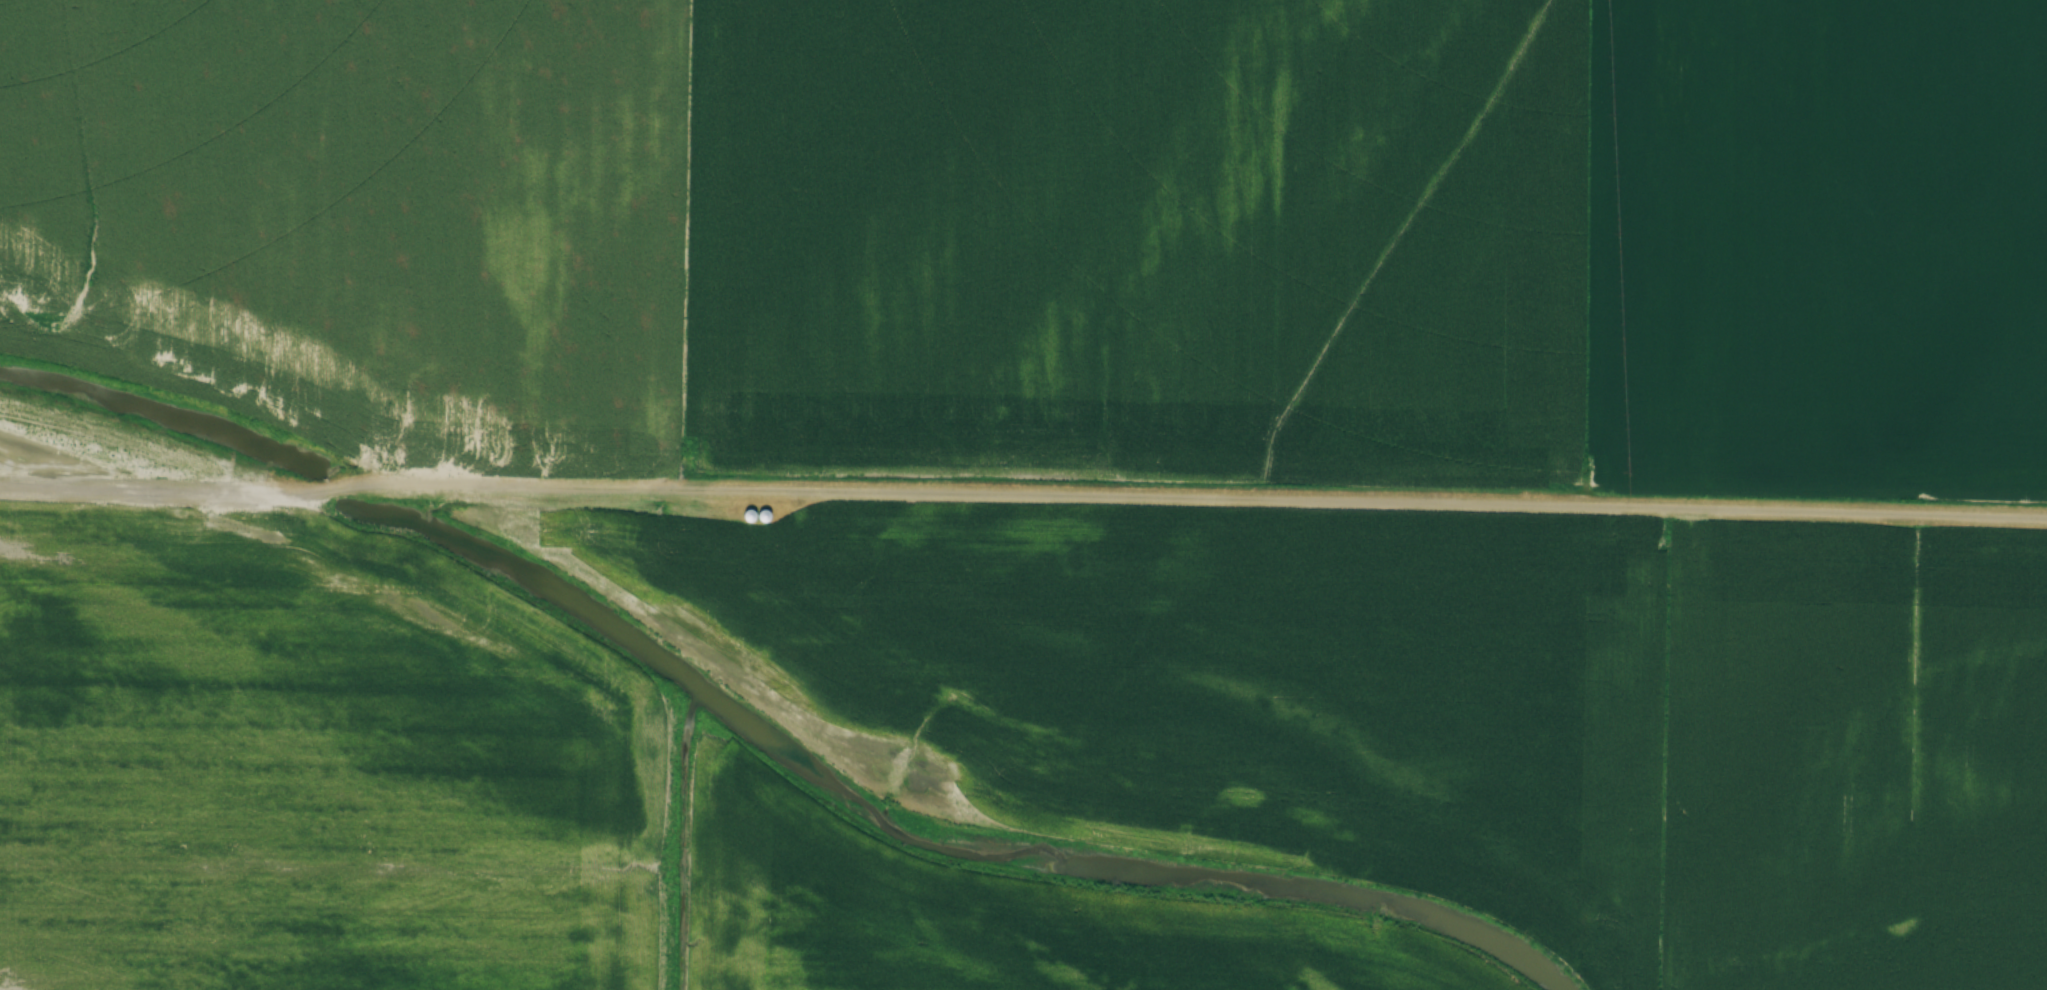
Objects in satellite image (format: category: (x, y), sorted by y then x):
road: (1023, 467)

